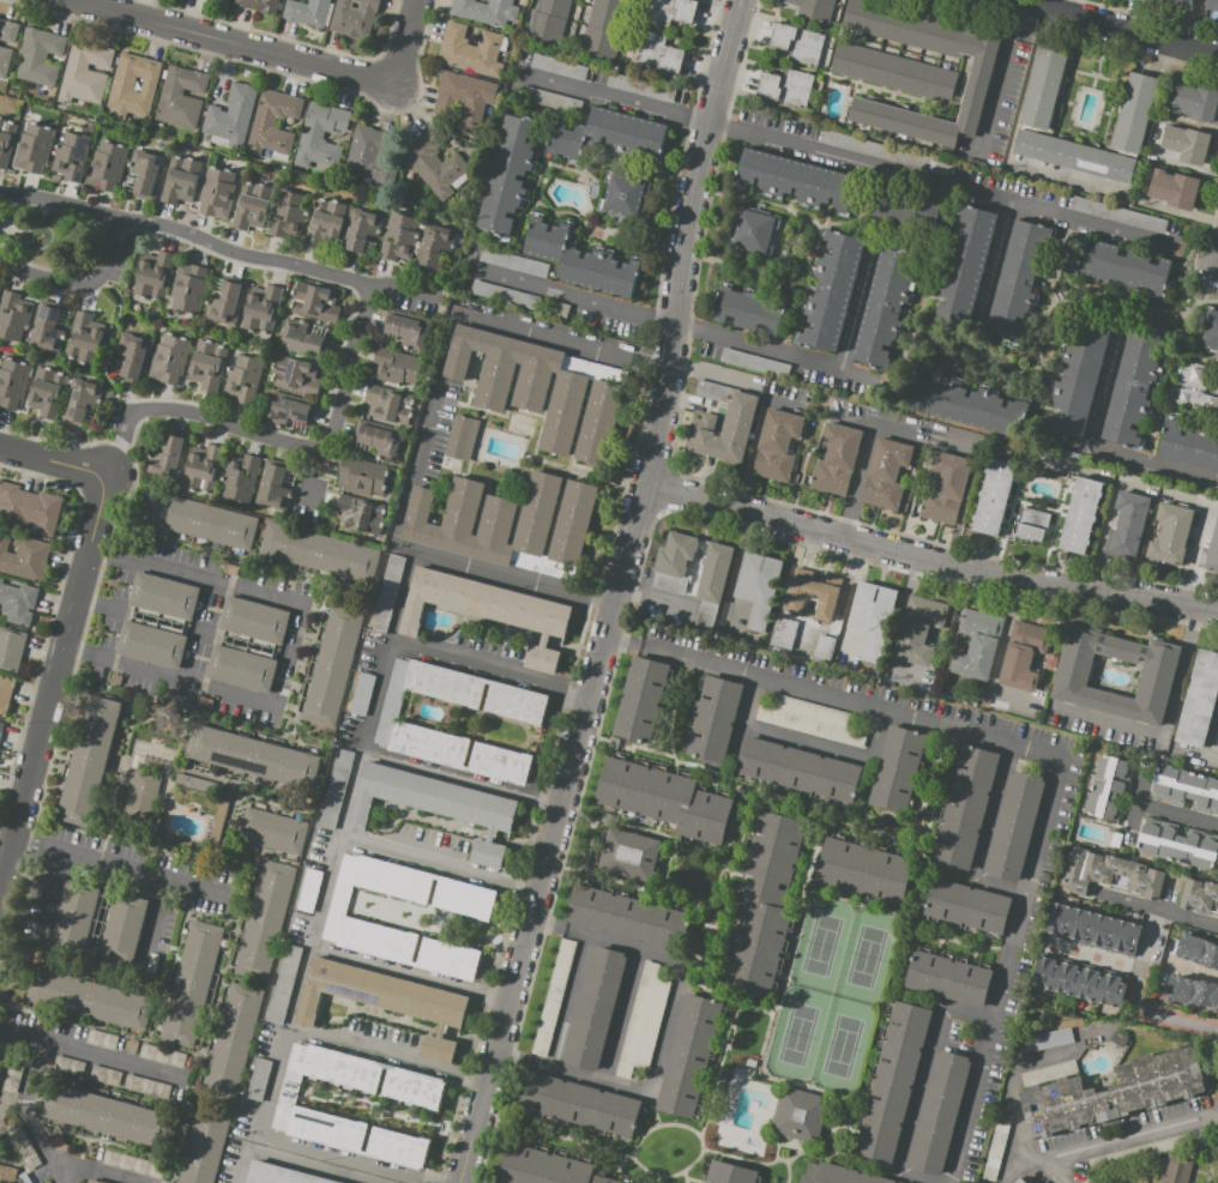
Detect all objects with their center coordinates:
building: (225, 0)
building: (1182, 2)
building: (260, 5)
building: (1211, 5)
building: (814, 8)
building: (307, 11)
building: (486, 11)
building: (669, 12)
building: (609, 14)
building: (354, 17)
building: (548, 20)
road: (1109, 29)
building: (8, 31)
building: (593, 31)
road: (234, 42)
road: (405, 42)
building: (797, 43)
building: (472, 49)
building: (657, 52)
building: (40, 56)
building: (5, 61)
building: (561, 67)
road: (263, 68)
building: (85, 72)
building: (892, 72)
building: (978, 77)
road: (997, 77)
building: (133, 85)
building: (786, 87)
building: (1043, 87)
building: (181, 97)
building: (466, 97)
building: (550, 99)
building: (1195, 102)
building: (1134, 113)
building: (230, 117)
building: (273, 123)
building: (610, 134)
building: (320, 135)
building: (6, 140)
building: (1186, 144)
building: (34, 147)
building: (884, 152)
building: (1074, 153)
building: (72, 156)
building: (368, 156)
road: (850, 158)
building: (436, 164)
building: (107, 167)
building: (146, 174)
building: (508, 174)
building: (180, 179)
building: (791, 181)
building: (1174, 188)
building: (217, 192)
building: (623, 195)
building: (252, 206)
building: (902, 212)
building: (289, 215)
building: (1118, 215)
building: (325, 222)
building: (362, 233)
building: (753, 233)
building: (398, 236)
building: (773, 236)
road: (687, 242)
building: (435, 245)
road: (218, 248)
building: (581, 261)
building: (513, 262)
building: (1116, 266)
building: (963, 268)
building: (153, 276)
building: (1019, 278)
road: (80, 285)
building: (187, 289)
building: (830, 291)
road: (577, 295)
building: (519, 298)
building: (227, 302)
building: (314, 302)
building: (261, 308)
building: (750, 309)
building: (886, 312)
building: (13, 316)
building: (47, 326)
building: (404, 327)
building: (314, 330)
road: (447, 331)
building: (1211, 332)
building: (84, 338)
building: (300, 339)
road: (778, 349)
building: (134, 354)
building: (169, 358)
building: (207, 364)
building: (753, 364)
road: (711, 372)
building: (294, 374)
building: (243, 378)
building: (1077, 378)
building: (521, 381)
building: (5, 384)
building: (392, 385)
building: (1133, 387)
building: (1193, 388)
building: (712, 391)
building: (46, 392)
building: (82, 399)
building: (961, 404)
building: (287, 409)
building: (598, 422)
building: (724, 429)
road: (892, 430)
building: (463, 437)
building: (378, 439)
road: (278, 440)
road: (754, 441)
building: (777, 446)
building: (1189, 447)
building: (169, 455)
road: (54, 457)
building: (837, 459)
road: (862, 460)
road: (1154, 466)
building: (203, 469)
building: (887, 473)
building: (240, 477)
building: (273, 485)
building: (943, 488)
road: (966, 489)
building: (348, 496)
building: (993, 497)
building: (29, 509)
building: (1080, 515)
building: (197, 520)
road: (1105, 521)
building: (508, 523)
building: (1033, 524)
building: (1127, 524)
building: (1170, 533)
building: (1210, 550)
building: (320, 553)
building: (676, 554)
road: (931, 555)
building: (23, 556)
road: (193, 573)
building: (713, 573)
building: (669, 583)
building: (759, 585)
building: (386, 593)
road: (586, 596)
building: (810, 597)
road: (653, 599)
building: (17, 600)
building: (488, 610)
building: (706, 614)
building: (872, 617)
building: (156, 620)
building: (917, 630)
building: (784, 632)
building: (934, 634)
building: (247, 644)
building: (976, 644)
building: (825, 647)
building: (11, 648)
road: (1000, 648)
building: (1023, 656)
building: (1050, 663)
building: (332, 666)
road: (490, 671)
road: (53, 676)
building: (1072, 676)
road: (175, 686)
building: (476, 692)
building: (5, 693)
building: (362, 693)
building: (640, 699)
building: (1199, 700)
building: (391, 701)
road: (742, 714)
building: (713, 718)
building: (812, 720)
road: (1165, 724)
building: (1, 729)
road: (1216, 737)
road: (363, 746)
road: (830, 749)
road: (657, 752)
building: (460, 754)
road: (1045, 754)
building: (254, 756)
building: (89, 760)
building: (800, 769)
building: (898, 769)
road: (463, 777)
building: (195, 784)
building: (1105, 787)
building: (336, 789)
building: (1187, 789)
building: (141, 795)
building: (664, 798)
road: (736, 802)
building: (435, 804)
building: (966, 807)
road: (993, 809)
road: (1176, 815)
road: (862, 823)
road: (633, 826)
building: (1014, 826)
building: (272, 831)
road: (555, 835)
building: (1177, 846)
building: (628, 855)
road: (113, 861)
road: (439, 865)
building: (864, 871)
building: (1110, 874)
road: (611, 879)
road: (997, 886)
parking lot: (1043, 887)
building: (308, 889)
building: (1200, 897)
road: (670, 901)
building: (764, 904)
building: (967, 906)
road: (548, 912)
road: (800, 915)
building: (626, 916)
building: (344, 919)
building: (98, 921)
building: (265, 921)
building: (1093, 929)
building: (1198, 949)
road: (1140, 968)
road: (1194, 972)
road: (411, 973)
building: (948, 978)
building: (1079, 982)
building: (284, 983)
building: (191, 984)
road: (890, 985)
building: (1192, 991)
building: (553, 996)
park: (832, 996)
building: (89, 998)
building: (382, 1001)
road: (569, 1001)
building: (596, 1008)
road: (621, 1015)
building: (644, 1018)
road: (667, 1027)
road: (19, 1031)
building: (1120, 1037)
building: (101, 1039)
building: (1044, 1040)
building: (233, 1042)
building: (129, 1045)
building: (689, 1055)
road: (110, 1056)
building: (162, 1056)
road: (387, 1057)
building: (749, 1062)
building: (68, 1066)
building: (104, 1075)
road: (764, 1076)
building: (259, 1079)
building: (893, 1081)
road: (921, 1085)
building: (147, 1086)
building: (1113, 1092)
building: (579, 1104)
building: (293, 1107)
building: (644, 1110)
road: (651, 1110)
road: (705, 1111)
road: (30, 1112)
building: (937, 1112)
building: (798, 1113)
building: (102, 1116)
road: (562, 1137)
building: (23, 1146)
building: (204, 1146)
road: (774, 1146)
building: (62, 1147)
building: (996, 1148)
road: (310, 1157)
road: (632, 1157)
road: (1039, 1164)
building: (134, 1165)
building: (543, 1167)
road: (1014, 1167)
building: (1176, 1167)
road: (104, 1170)
building: (729, 1173)
building: (7, 1175)
building: (279, 1175)
building: (837, 1175)
road: (1061, 1175)
road: (683, 1177)
building: (24, 1178)
building: (1020, 1181)
building: (1089, 1181)
building: (94, 1182)
building: (900, 1182)
building: (1029, 1182)

